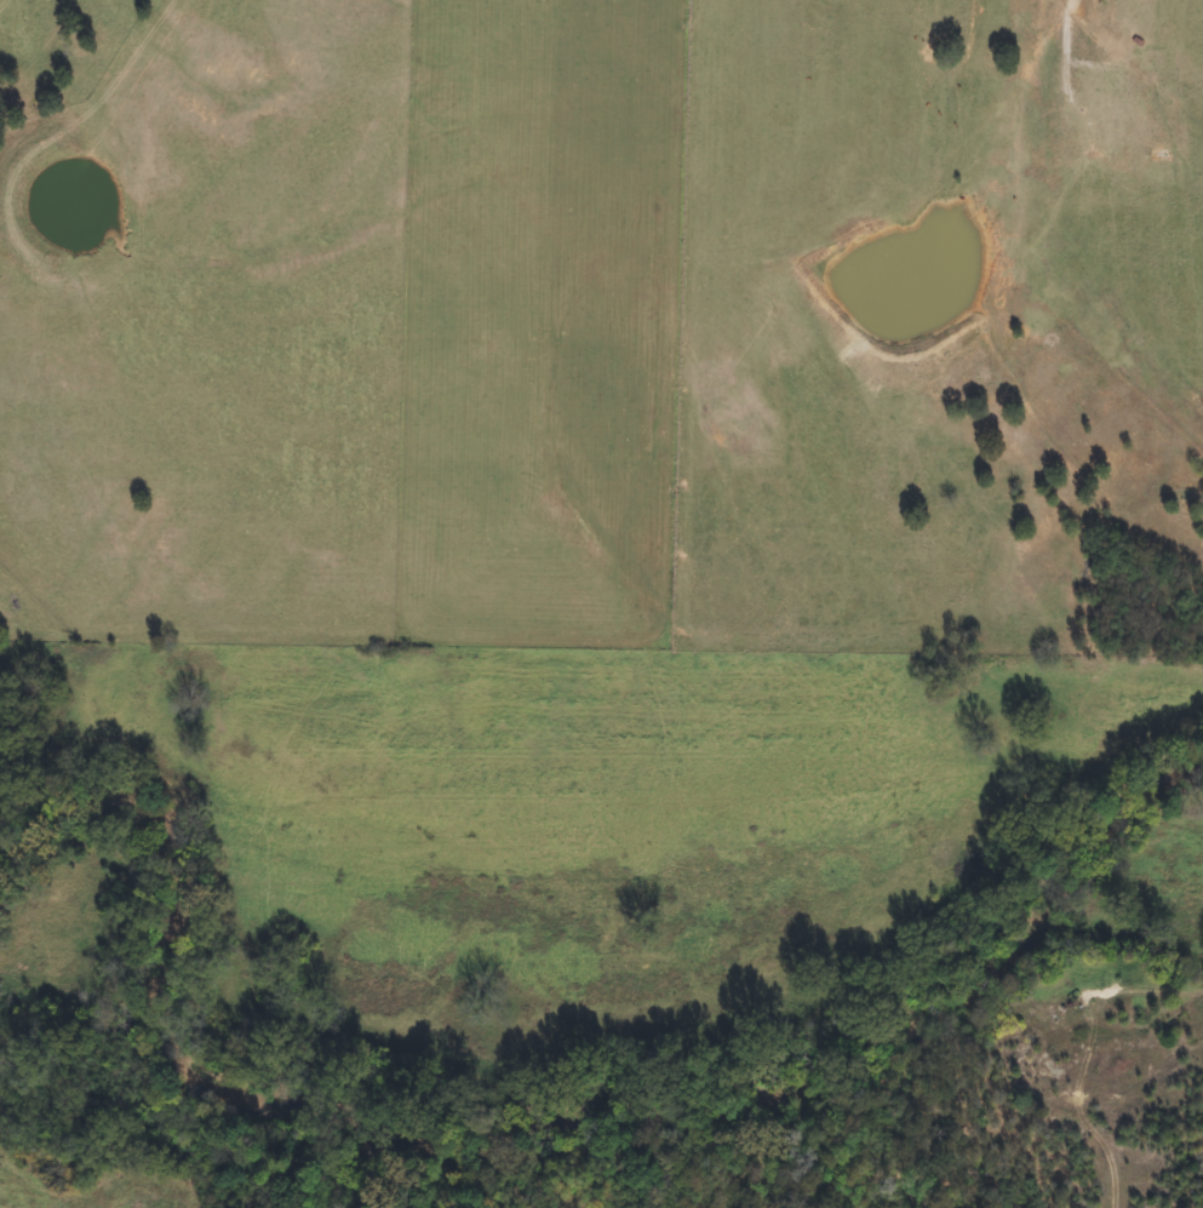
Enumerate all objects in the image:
road: (1186, 994)

